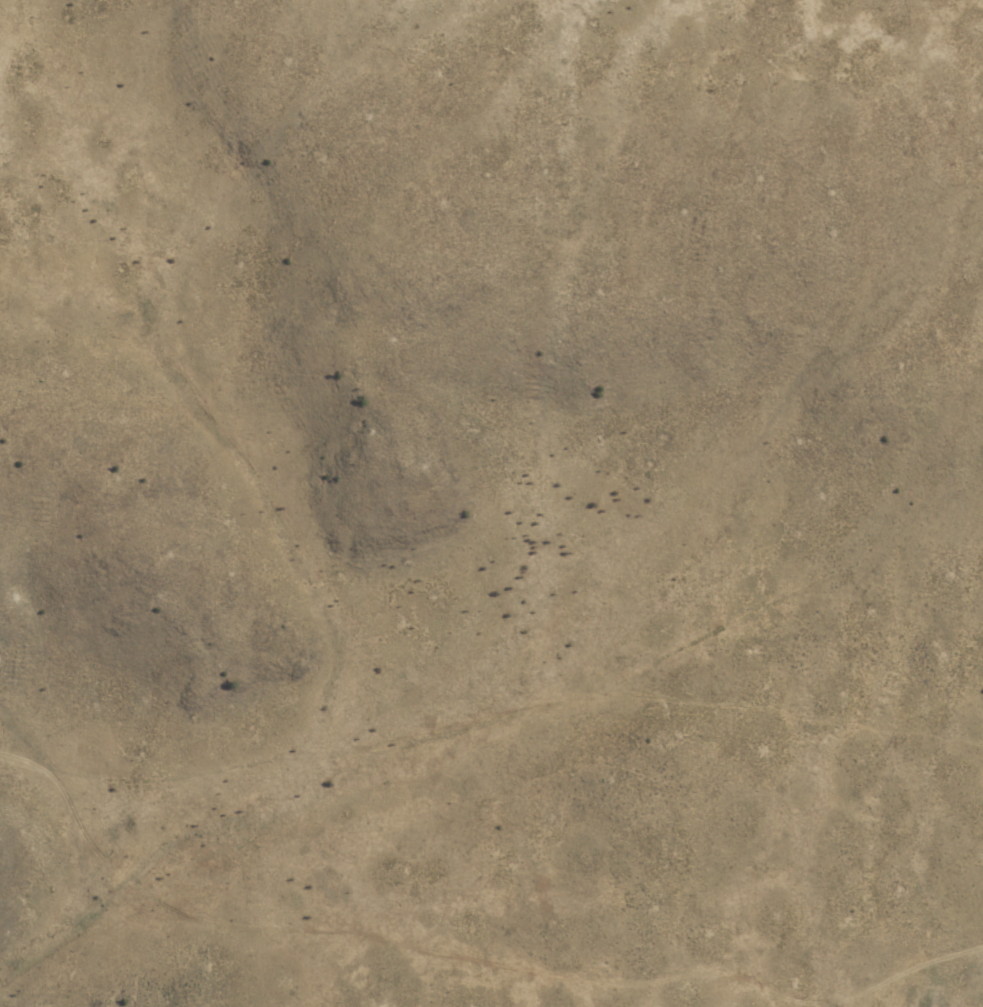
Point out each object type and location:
road: (949, 925)

